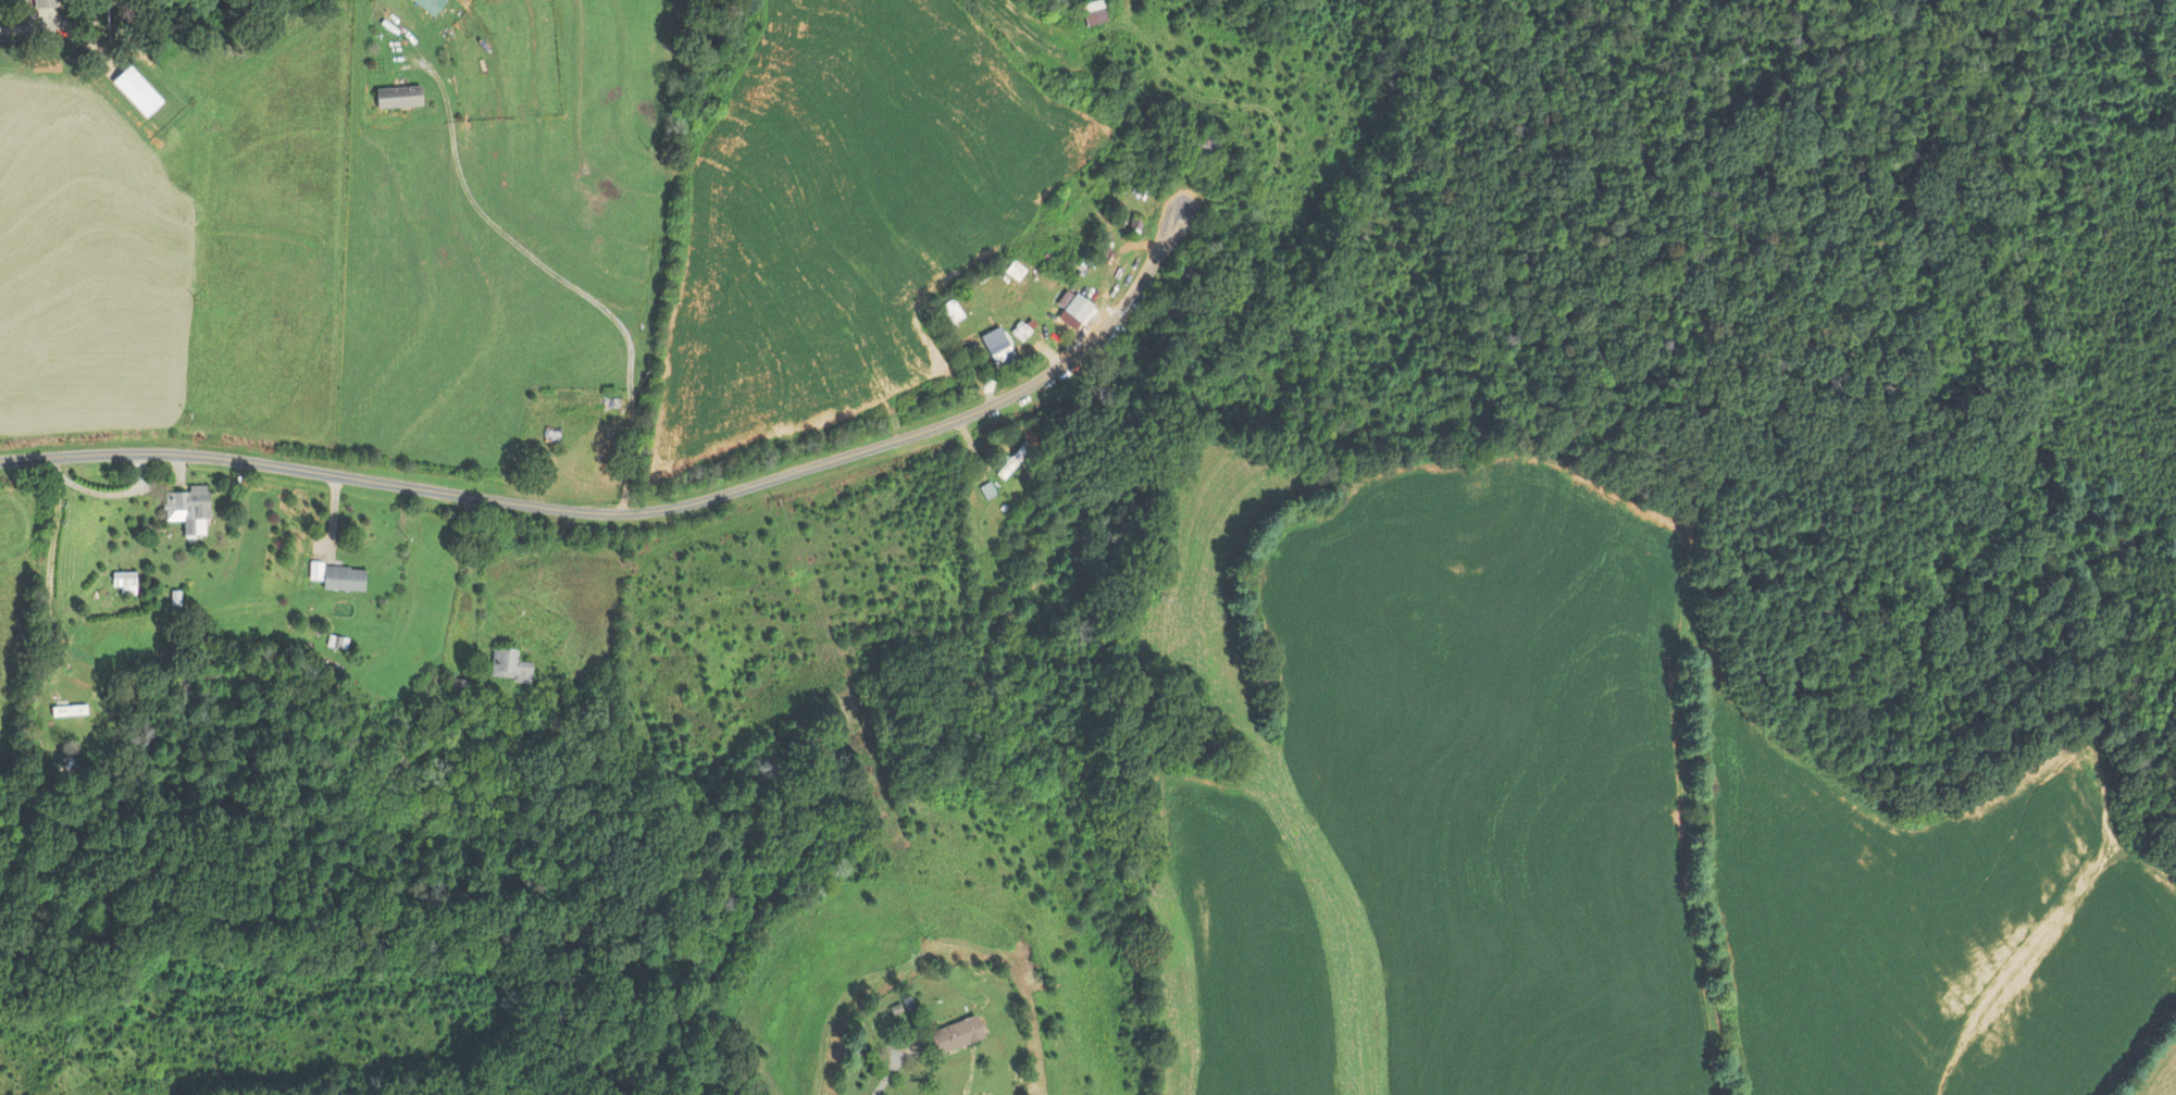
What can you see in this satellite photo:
building: (43, 3)
building: (430, 5)
building: (1094, 13)
building: (137, 91)
building: (399, 97)
building: (1204, 141)
building: (1099, 250)
road: (564, 281)
building: (1074, 309)
building: (1020, 331)
building: (996, 345)
building: (1012, 461)
building: (195, 510)
road: (645, 511)
building: (338, 577)
building: (128, 584)
building: (509, 665)
building: (426, 683)
building: (455, 684)
building: (73, 711)
building: (489, 735)
building: (956, 1035)
road: (866, 1080)

